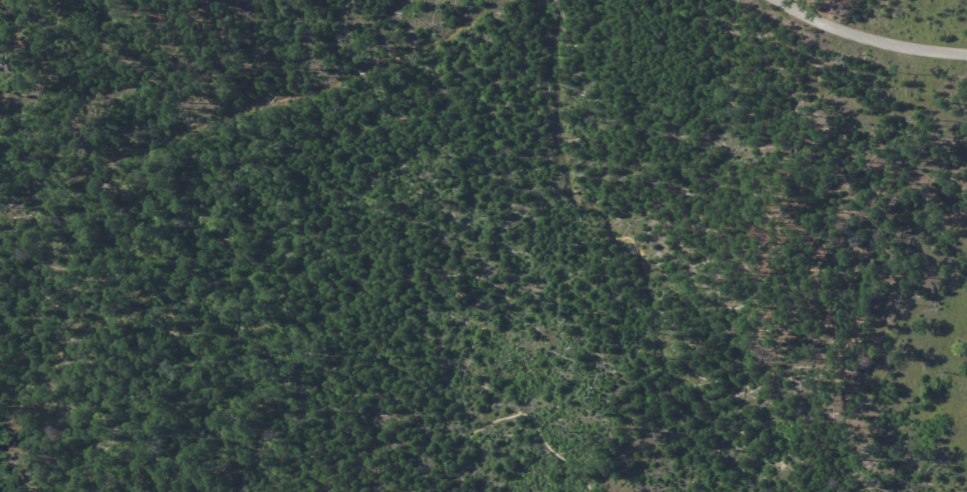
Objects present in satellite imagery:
road: (870, 37)
park: (483, 246)
road: (761, 364)
road: (515, 413)

